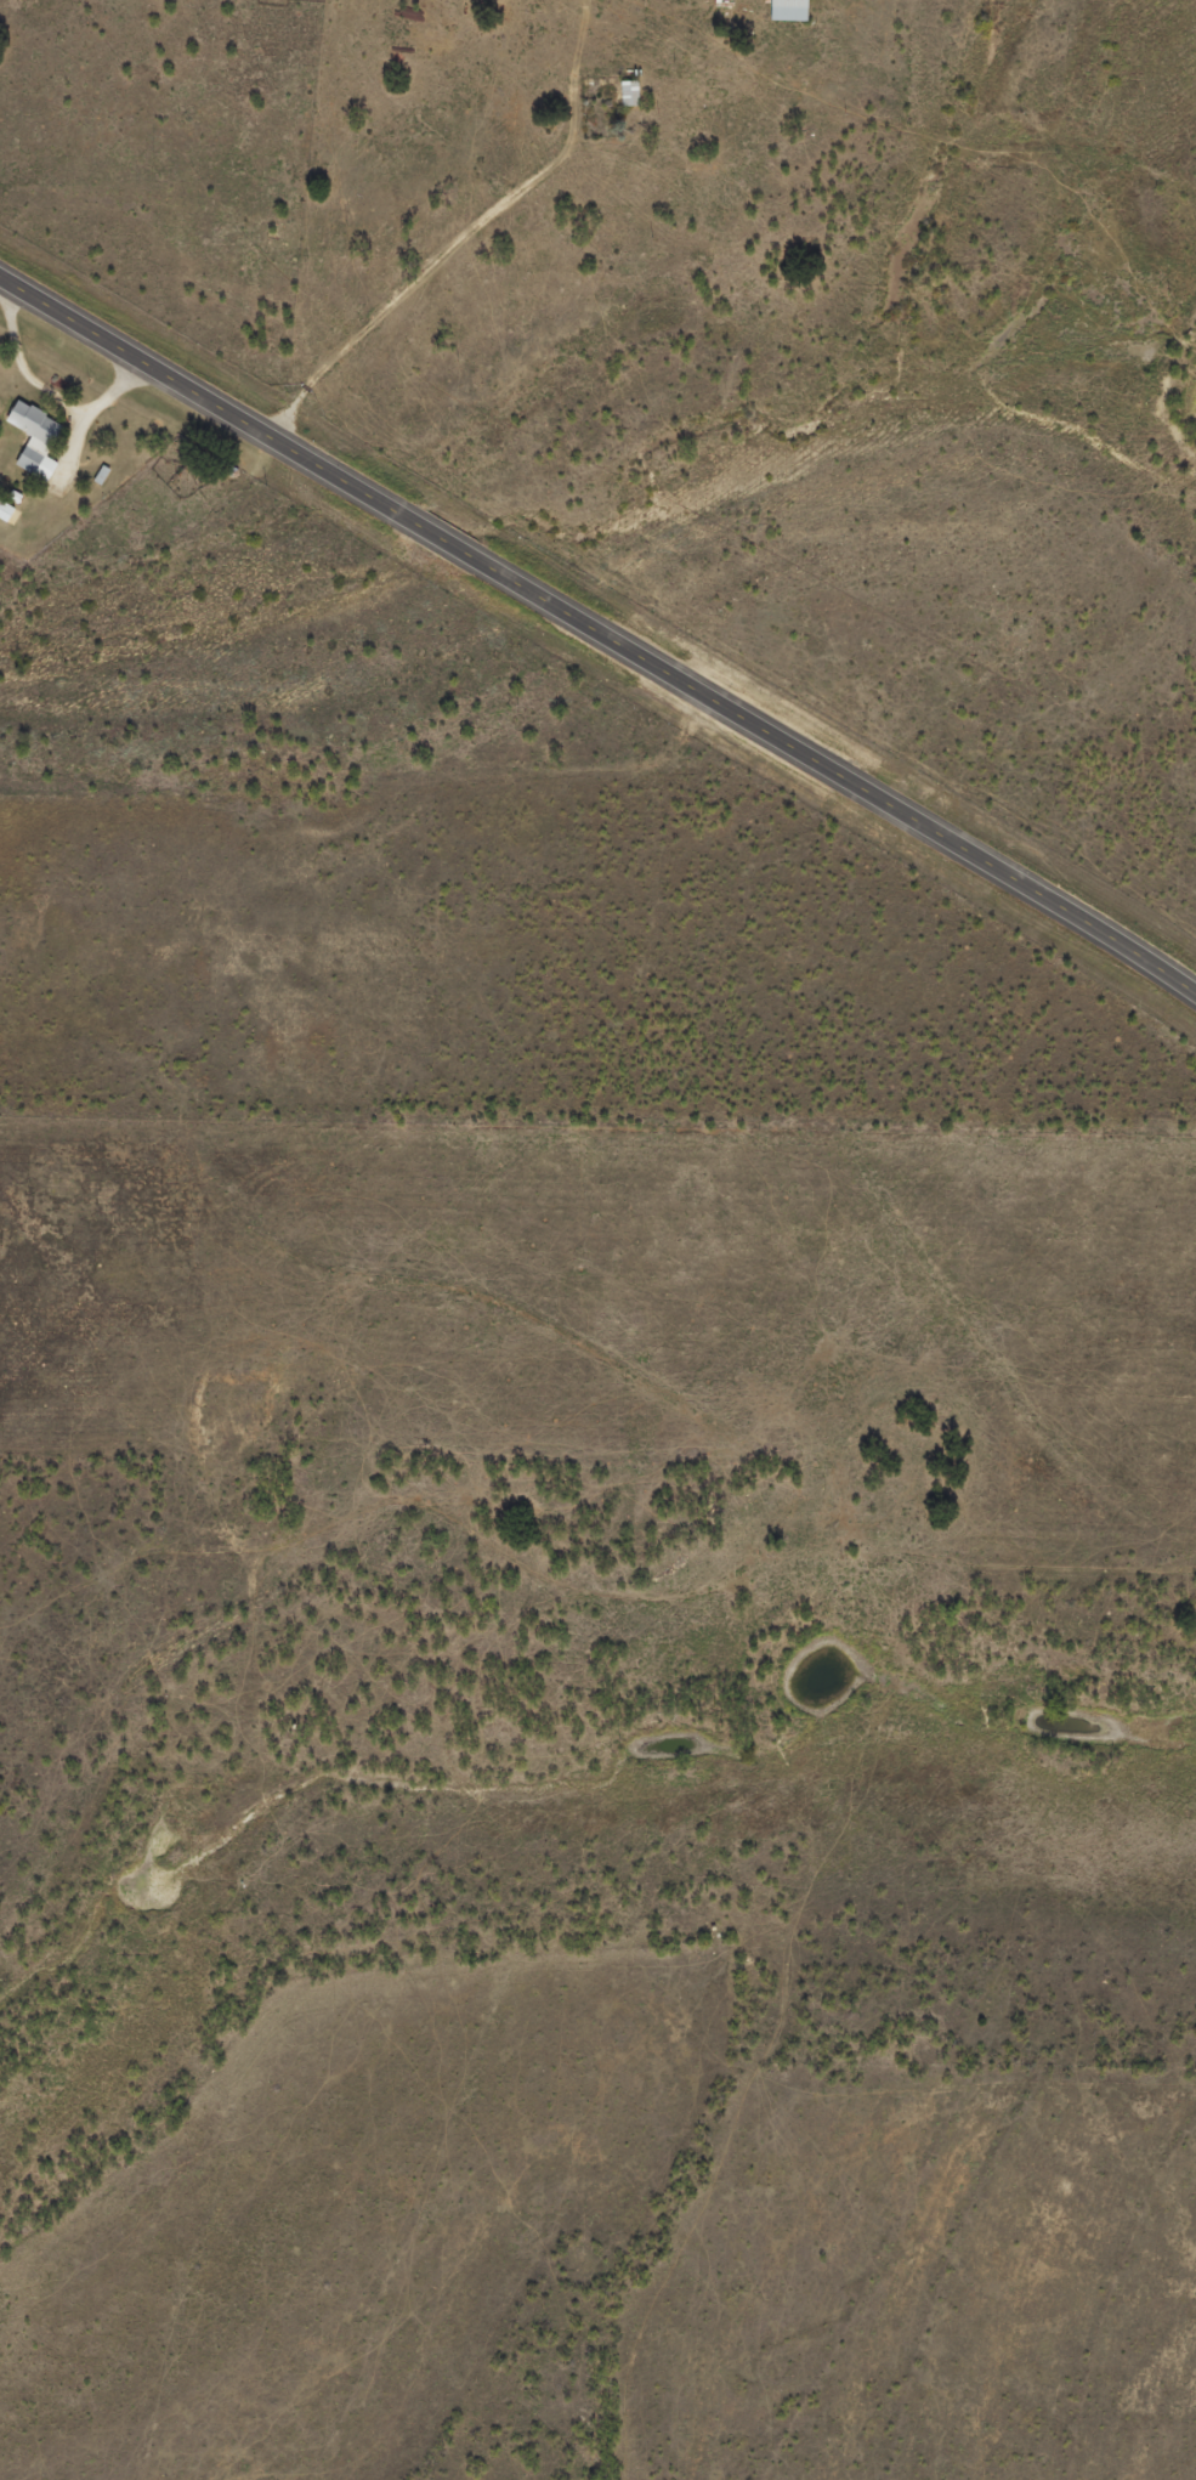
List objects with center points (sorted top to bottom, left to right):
building: (795, 11)
building: (635, 95)
road: (443, 255)
building: (40, 440)
building: (10, 513)
road: (599, 636)

